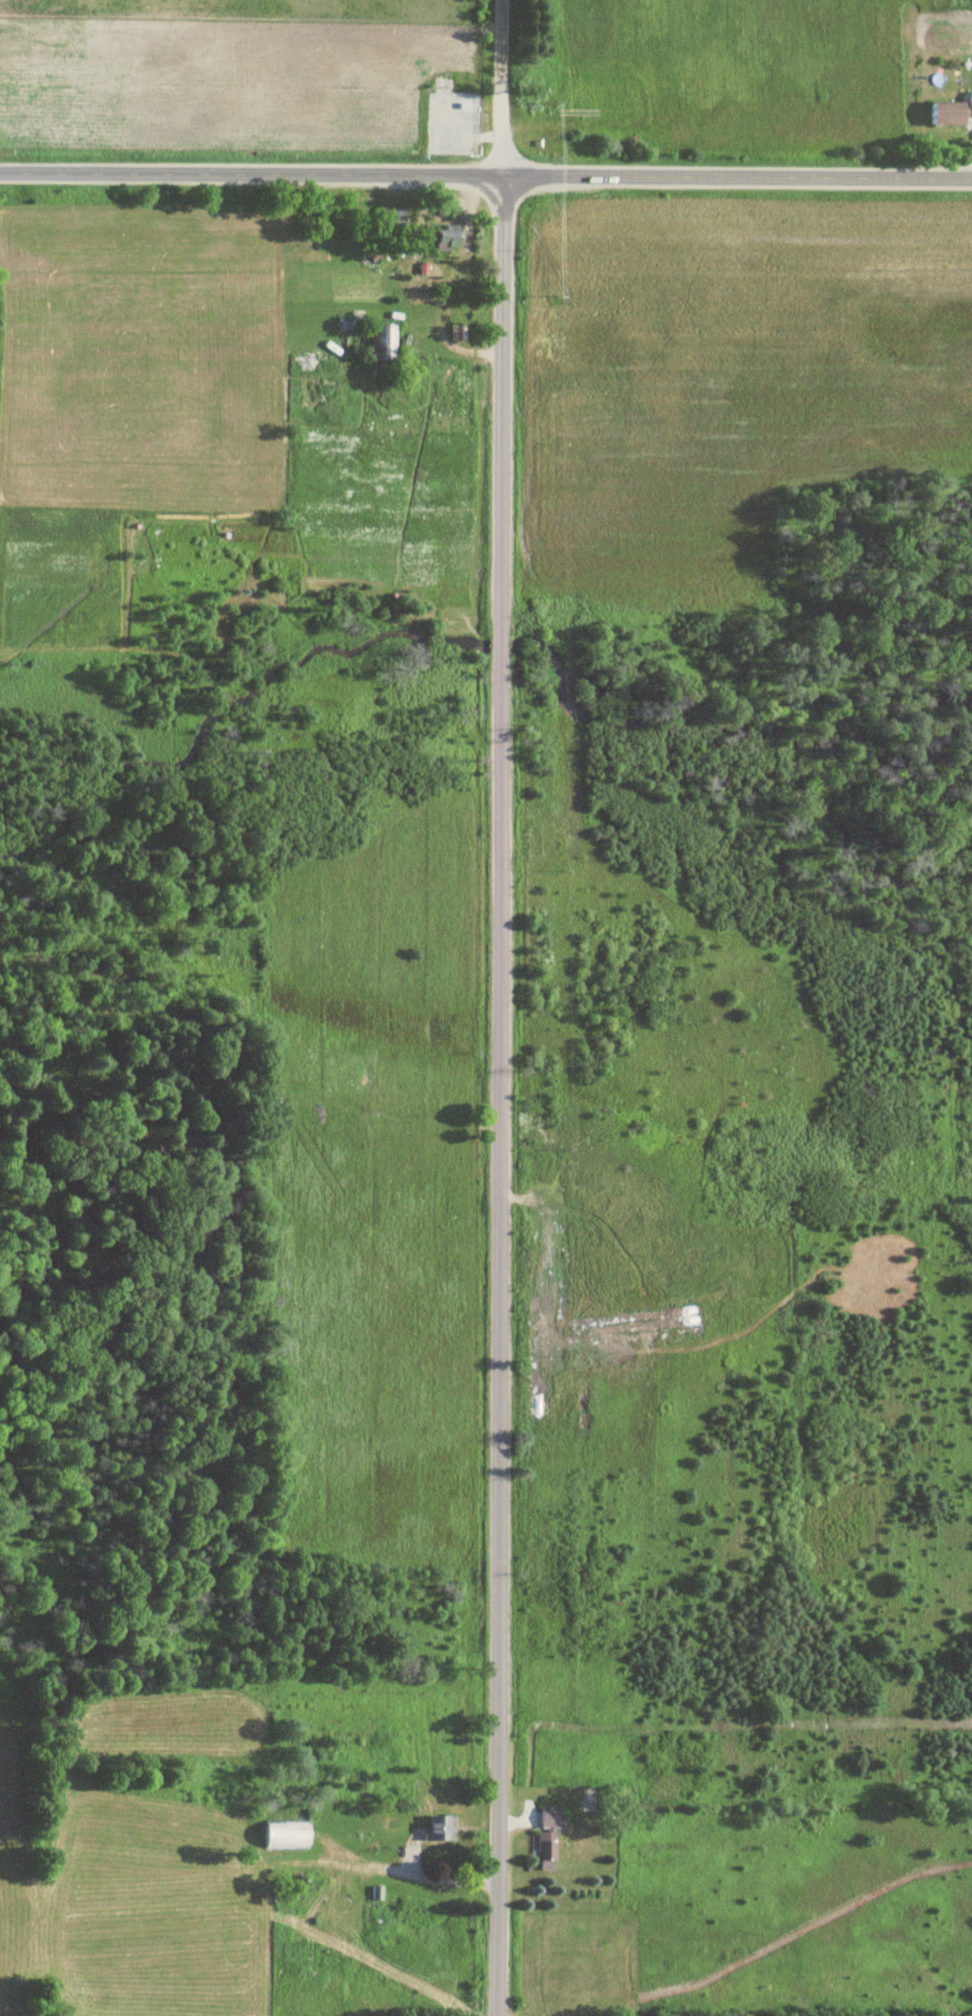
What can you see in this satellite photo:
road: (503, 88)
building: (966, 105)
building: (938, 114)
road: (485, 176)
building: (441, 237)
building: (456, 333)
building: (381, 343)
road: (496, 1096)
building: (434, 1828)
building: (279, 1834)
building: (544, 1838)

